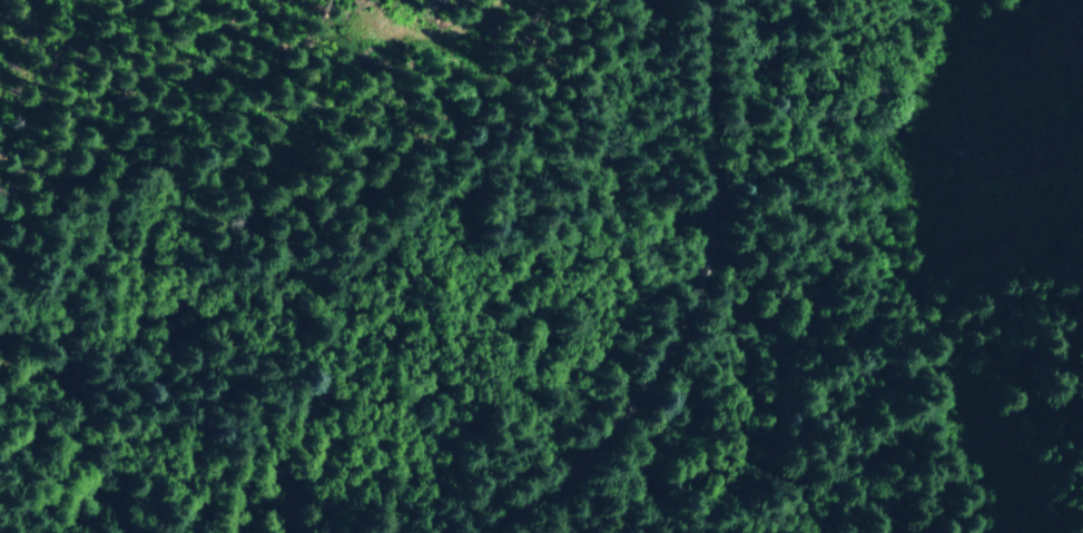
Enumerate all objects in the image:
road: (778, 285)

